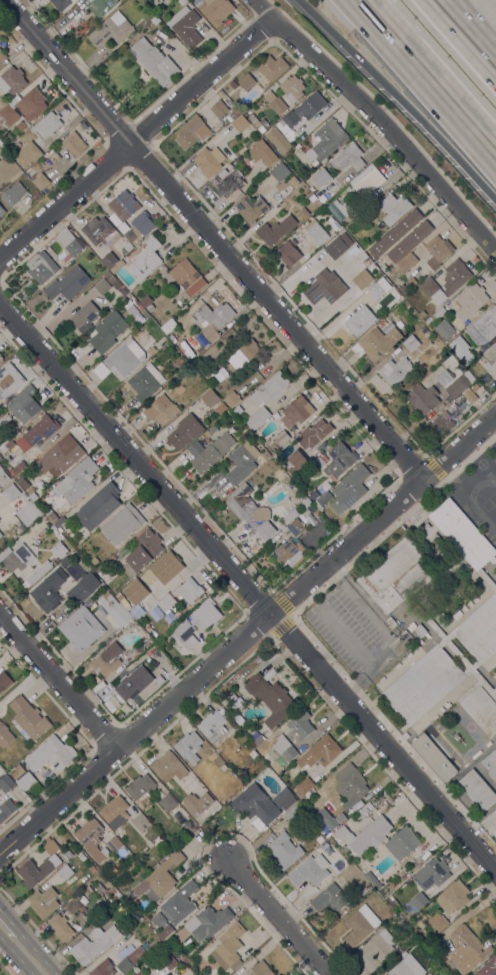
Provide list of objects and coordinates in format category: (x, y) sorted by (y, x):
building: (182, 2)
building: (61, 4)
building: (101, 6)
building: (216, 10)
building: (186, 26)
building: (111, 30)
road: (468, 31)
building: (2, 57)
building: (154, 61)
building: (272, 67)
road: (427, 78)
building: (12, 80)
building: (246, 81)
building: (233, 84)
building: (293, 88)
road: (396, 95)
building: (275, 103)
building: (312, 105)
building: (23, 107)
building: (219, 108)
building: (290, 118)
building: (47, 124)
building: (241, 124)
building: (22, 127)
building: (261, 129)
road: (375, 130)
building: (192, 132)
road: (136, 139)
building: (278, 140)
building: (326, 140)
building: (73, 143)
building: (3, 144)
building: (262, 153)
building: (28, 154)
building: (53, 156)
building: (349, 159)
building: (208, 160)
building: (280, 171)
building: (222, 173)
building: (319, 178)
building: (367, 180)
building: (40, 181)
building: (293, 181)
building: (229, 183)
building: (331, 191)
building: (13, 193)
building: (312, 198)
building: (123, 205)
building: (250, 207)
building: (394, 208)
building: (339, 209)
building: (2, 211)
building: (304, 212)
building: (142, 222)
building: (98, 230)
building: (275, 230)
building: (316, 232)
building: (395, 232)
building: (130, 233)
road: (211, 240)
building: (409, 240)
building: (68, 242)
building: (128, 247)
building: (335, 247)
building: (437, 248)
building: (288, 253)
building: (353, 253)
building: (362, 257)
building: (146, 258)
building: (109, 259)
building: (406, 262)
building: (117, 266)
building: (40, 267)
building: (383, 267)
building: (393, 273)
building: (455, 275)
building: (187, 277)
building: (363, 279)
building: (112, 280)
building: (68, 283)
building: (411, 283)
building: (326, 286)
building: (377, 288)
building: (433, 290)
building: (100, 298)
building: (470, 301)
building: (146, 302)
building: (141, 308)
building: (130, 311)
building: (422, 313)
building: (439, 313)
building: (82, 316)
building: (429, 320)
building: (212, 322)
building: (358, 322)
building: (382, 322)
building: (399, 324)
building: (168, 326)
building: (483, 327)
building: (444, 328)
building: (424, 330)
building: (107, 331)
building: (376, 342)
building: (411, 343)
building: (459, 345)
building: (189, 347)
building: (151, 350)
building: (243, 353)
building: (491, 353)
building: (0, 355)
building: (466, 357)
building: (125, 358)
building: (1, 359)
building: (179, 361)
building: (394, 371)
building: (444, 377)
building: (9, 380)
building: (146, 381)
building: (456, 386)
building: (270, 388)
building: (470, 396)
building: (210, 398)
building: (423, 398)
building: (232, 399)
building: (24, 404)
building: (220, 408)
building: (160, 409)
building: (237, 410)
building: (296, 411)
building: (258, 418)
building: (4, 419)
building: (8, 425)
building: (441, 425)
building: (213, 429)
building: (184, 431)
building: (37, 432)
building: (313, 433)
building: (277, 441)
building: (3, 448)
building: (209, 451)
building: (60, 456)
building: (0, 457)
building: (339, 459)
building: (242, 461)
building: (296, 462)
building: (16, 468)
building: (302, 475)
building: (3, 477)
building: (77, 480)
building: (22, 481)
building: (353, 485)
building: (11, 492)
building: (313, 495)
building: (31, 497)
building: (322, 499)
building: (305, 502)
building: (98, 506)
building: (251, 512)
building: (27, 513)
building: (315, 513)
building: (290, 516)
building: (55, 521)
building: (122, 523)
building: (462, 533)
building: (0, 534)
building: (291, 542)
building: (60, 548)
building: (144, 549)
building: (15, 556)
building: (94, 560)
building: (162, 568)
building: (128, 569)
building: (398, 569)
building: (39, 572)
building: (49, 576)
building: (486, 579)
building: (187, 589)
road: (248, 591)
building: (79, 592)
building: (45, 596)
building: (121, 596)
building: (166, 602)
building: (114, 609)
building: (173, 618)
building: (391, 622)
building: (195, 623)
building: (148, 627)
building: (81, 628)
building: (479, 630)
building: (418, 631)
road: (387, 632)
road: (248, 635)
road: (347, 636)
building: (161, 642)
building: (154, 647)
building: (455, 654)
building: (107, 659)
building: (4, 680)
building: (132, 683)
road: (58, 684)
building: (423, 684)
building: (494, 690)
building: (271, 698)
building: (481, 710)
building: (29, 717)
building: (238, 717)
building: (213, 724)
building: (301, 724)
building: (265, 731)
building: (4, 735)
building: (256, 737)
building: (188, 744)
building: (285, 748)
building: (252, 753)
building: (319, 753)
building: (51, 754)
building: (434, 756)
building: (190, 757)
building: (490, 763)
building: (168, 766)
building: (17, 771)
building: (26, 781)
building: (6, 783)
building: (304, 785)
building: (350, 785)
building: (140, 787)
building: (478, 790)
building: (289, 801)
building: (167, 802)
building: (196, 803)
building: (254, 806)
building: (367, 808)
building: (6, 809)
building: (295, 811)
building: (114, 812)
building: (495, 817)
building: (330, 818)
building: (140, 821)
building: (364, 836)
building: (91, 839)
building: (157, 841)
building: (402, 843)
building: (322, 847)
building: (118, 848)
building: (284, 850)
building: (66, 855)
building: (81, 857)
building: (40, 866)
building: (92, 869)
building: (65, 871)
building: (310, 871)
building: (432, 873)
building: (161, 878)
building: (372, 880)
building: (129, 895)
building: (453, 896)
building: (114, 897)
building: (330, 898)
building: (418, 900)
building: (43, 902)
building: (180, 902)
building: (74, 905)
building: (391, 911)
building: (146, 918)
road: (276, 918)
building: (158, 919)
building: (208, 921)
building: (436, 923)
building: (359, 925)
building: (60, 927)
building: (166, 930)
road: (4, 936)
building: (93, 944)
building: (229, 946)
building: (468, 949)
building: (376, 950)
road: (23, 958)
building: (131, 959)
building: (169, 960)
building: (407, 967)
building: (103, 968)
building: (488, 968)
building: (259, 969)
building: (136, 973)

